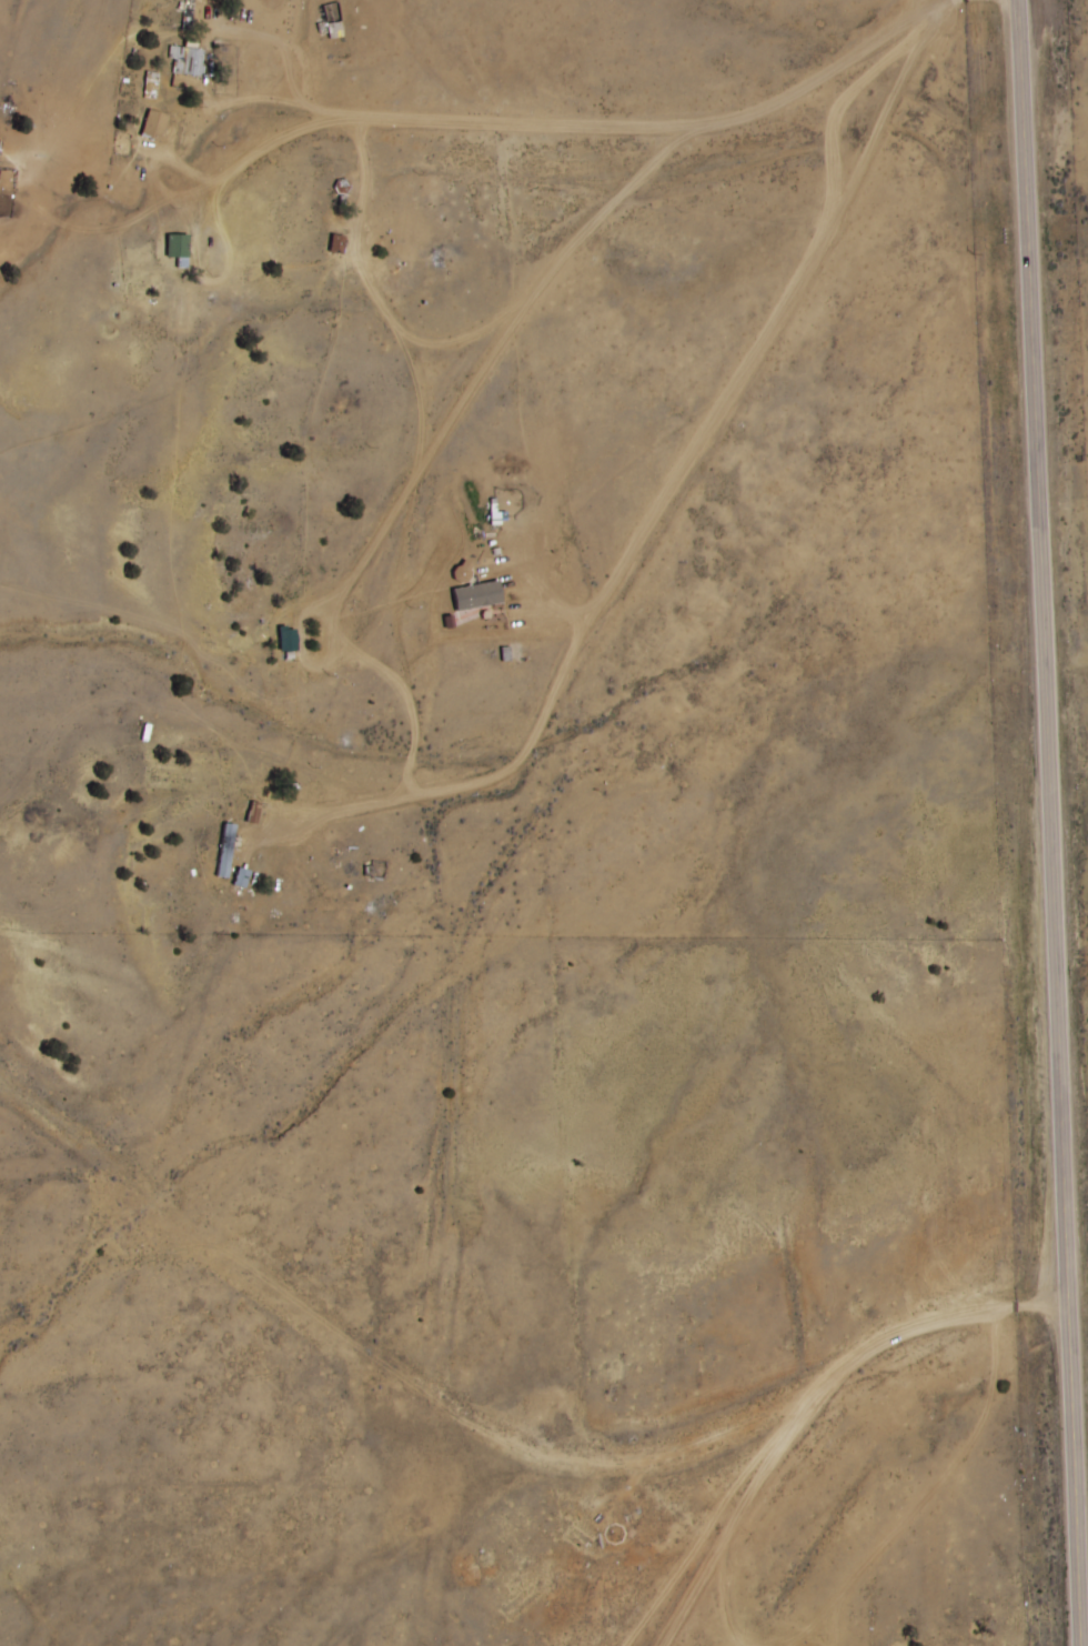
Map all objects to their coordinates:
building: (187, 14)
building: (333, 29)
building: (190, 60)
building: (150, 84)
building: (153, 126)
building: (335, 244)
building: (177, 247)
building: (462, 571)
building: (286, 641)
building: (249, 813)
road: (1050, 822)
building: (224, 850)
building: (240, 877)
road: (966, 1318)
road: (744, 1498)

